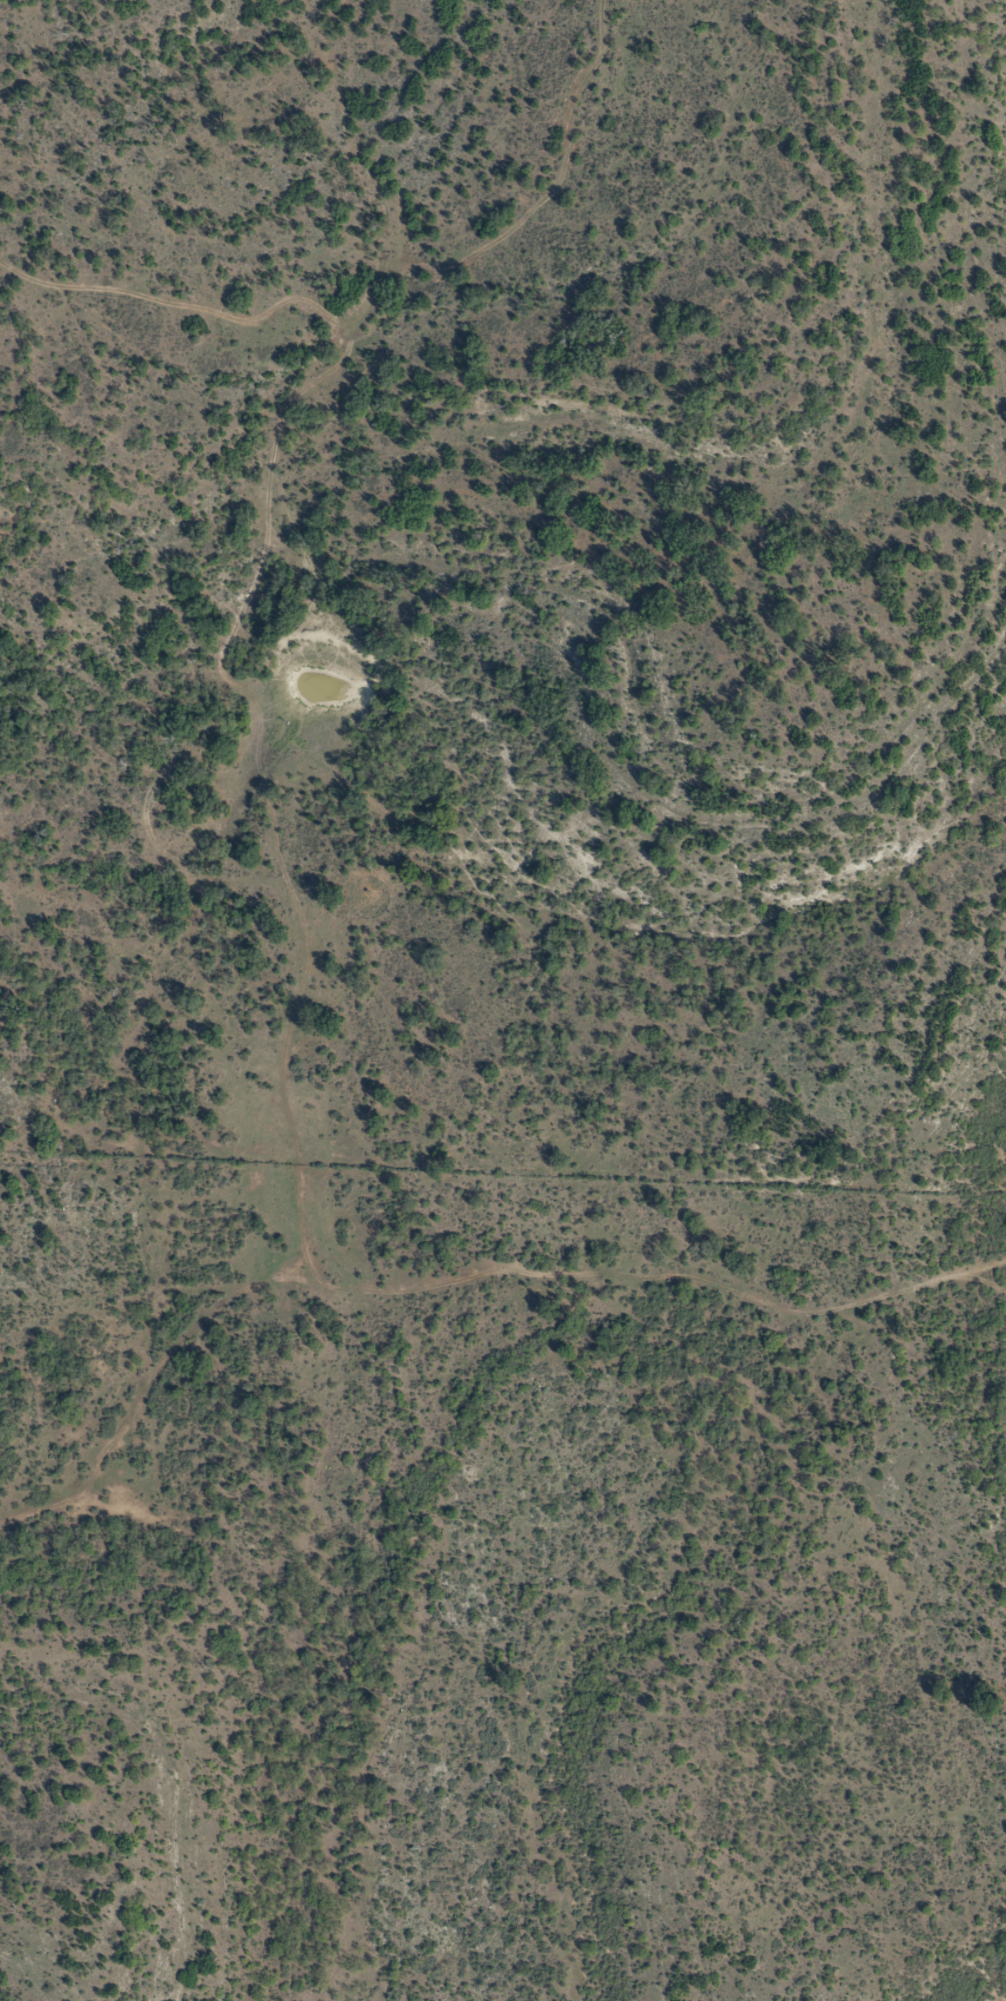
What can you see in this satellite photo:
road: (410, 333)
road: (432, 1321)

